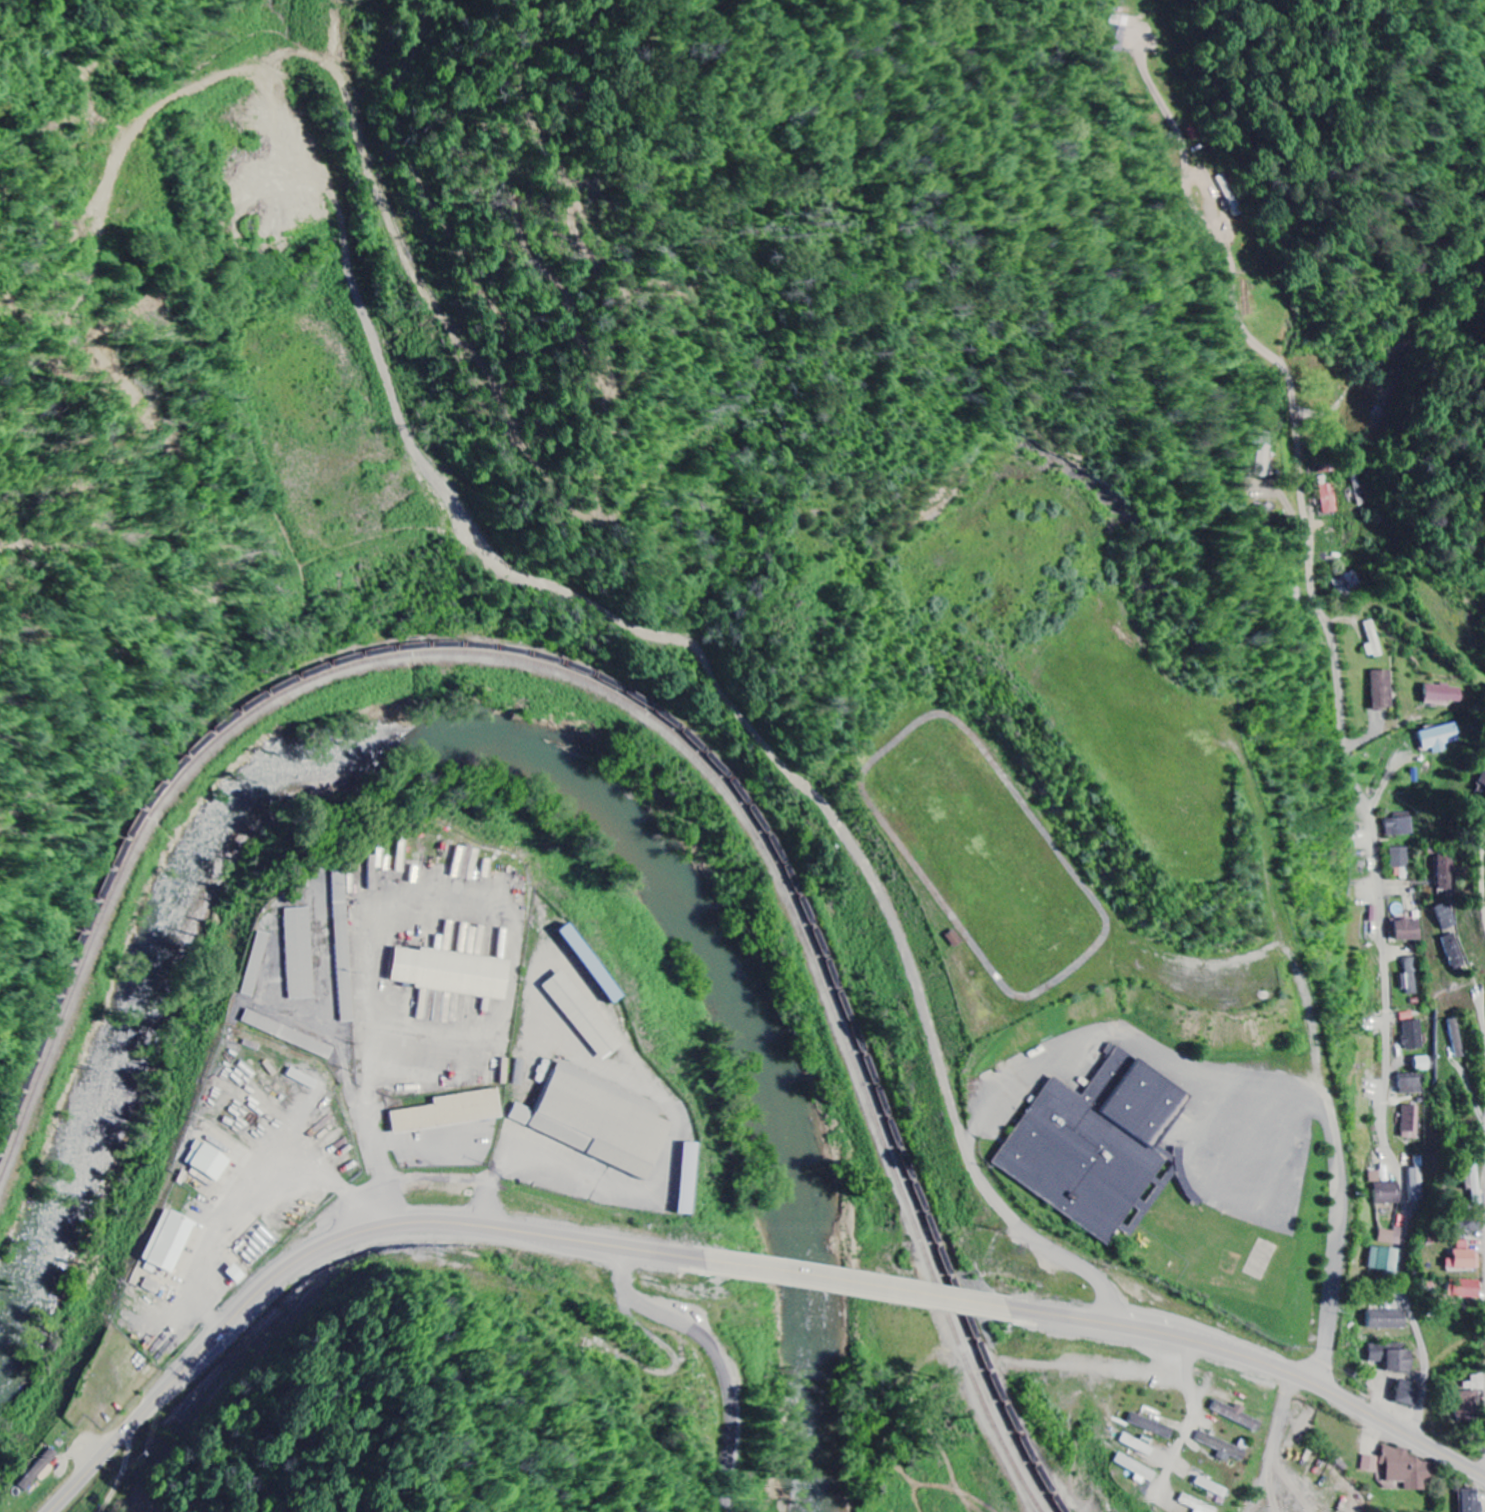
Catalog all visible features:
building: (1123, 31)
building: (1326, 467)
building: (1330, 499)
building: (1348, 582)
building: (1374, 641)
building: (1384, 691)
building: (1444, 695)
railway: (639, 699)
railway: (623, 701)
building: (1441, 738)
river: (495, 748)
building: (1482, 778)
building: (1401, 825)
building: (1402, 863)
building: (1447, 872)
road: (1484, 885)
building: (1446, 917)
building: (1410, 931)
building: (343, 945)
building: (1454, 952)
building: (300, 954)
building: (256, 965)
building: (591, 965)
building: (453, 974)
building: (1411, 978)
road: (1389, 993)
building: (584, 1017)
building: (288, 1035)
building: (1416, 1035)
building: (1424, 1064)
building: (521, 1073)
building: (1412, 1084)
building: (451, 1113)
building: (587, 1116)
building: (1412, 1123)
building: (1090, 1129)
building: (208, 1162)
building: (688, 1180)
building: (1473, 1183)
building: (1417, 1185)
building: (1387, 1189)
building: (1392, 1237)
road: (309, 1242)
building: (168, 1244)
building: (1463, 1259)
building: (1385, 1260)
road: (838, 1273)
building: (237, 1275)
building: (1466, 1290)
building: (1388, 1320)
road: (1254, 1356)
building: (1395, 1358)
road: (723, 1370)
building: (1476, 1384)
building: (1409, 1394)
building: (1469, 1405)
building: (1236, 1415)
building: (1152, 1427)
building: (1138, 1446)
building: (1223, 1448)
building: (1371, 1465)
building: (39, 1470)
building: (1407, 1470)
building: (1138, 1471)
building: (1211, 1488)
building: (1472, 1501)
building: (1194, 1505)

